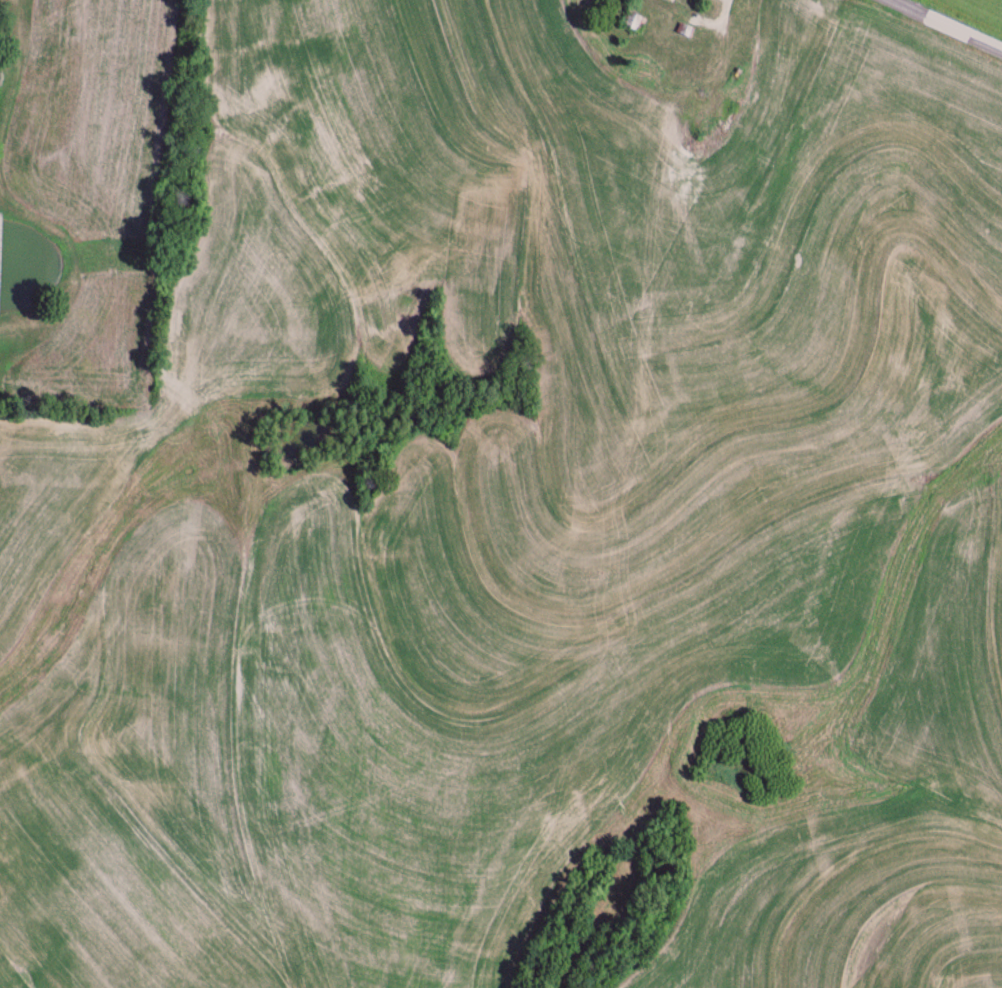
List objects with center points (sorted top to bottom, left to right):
road: (950, 24)
building: (637, 25)
building: (718, 141)

